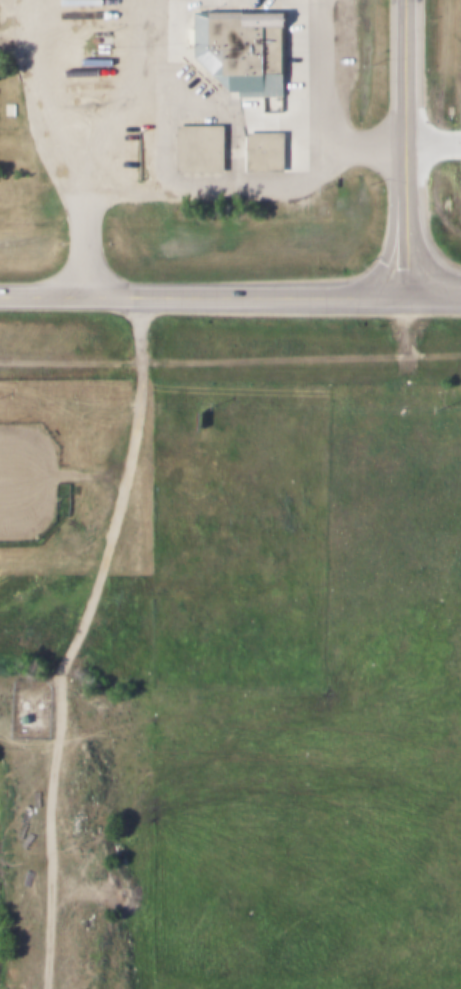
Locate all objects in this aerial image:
building: (236, 48)
building: (91, 61)
road: (410, 92)
road: (326, 114)
building: (195, 148)
building: (260, 151)
road: (436, 177)
road: (411, 240)
road: (436, 293)
road: (205, 294)
road: (76, 638)
building: (18, 715)

